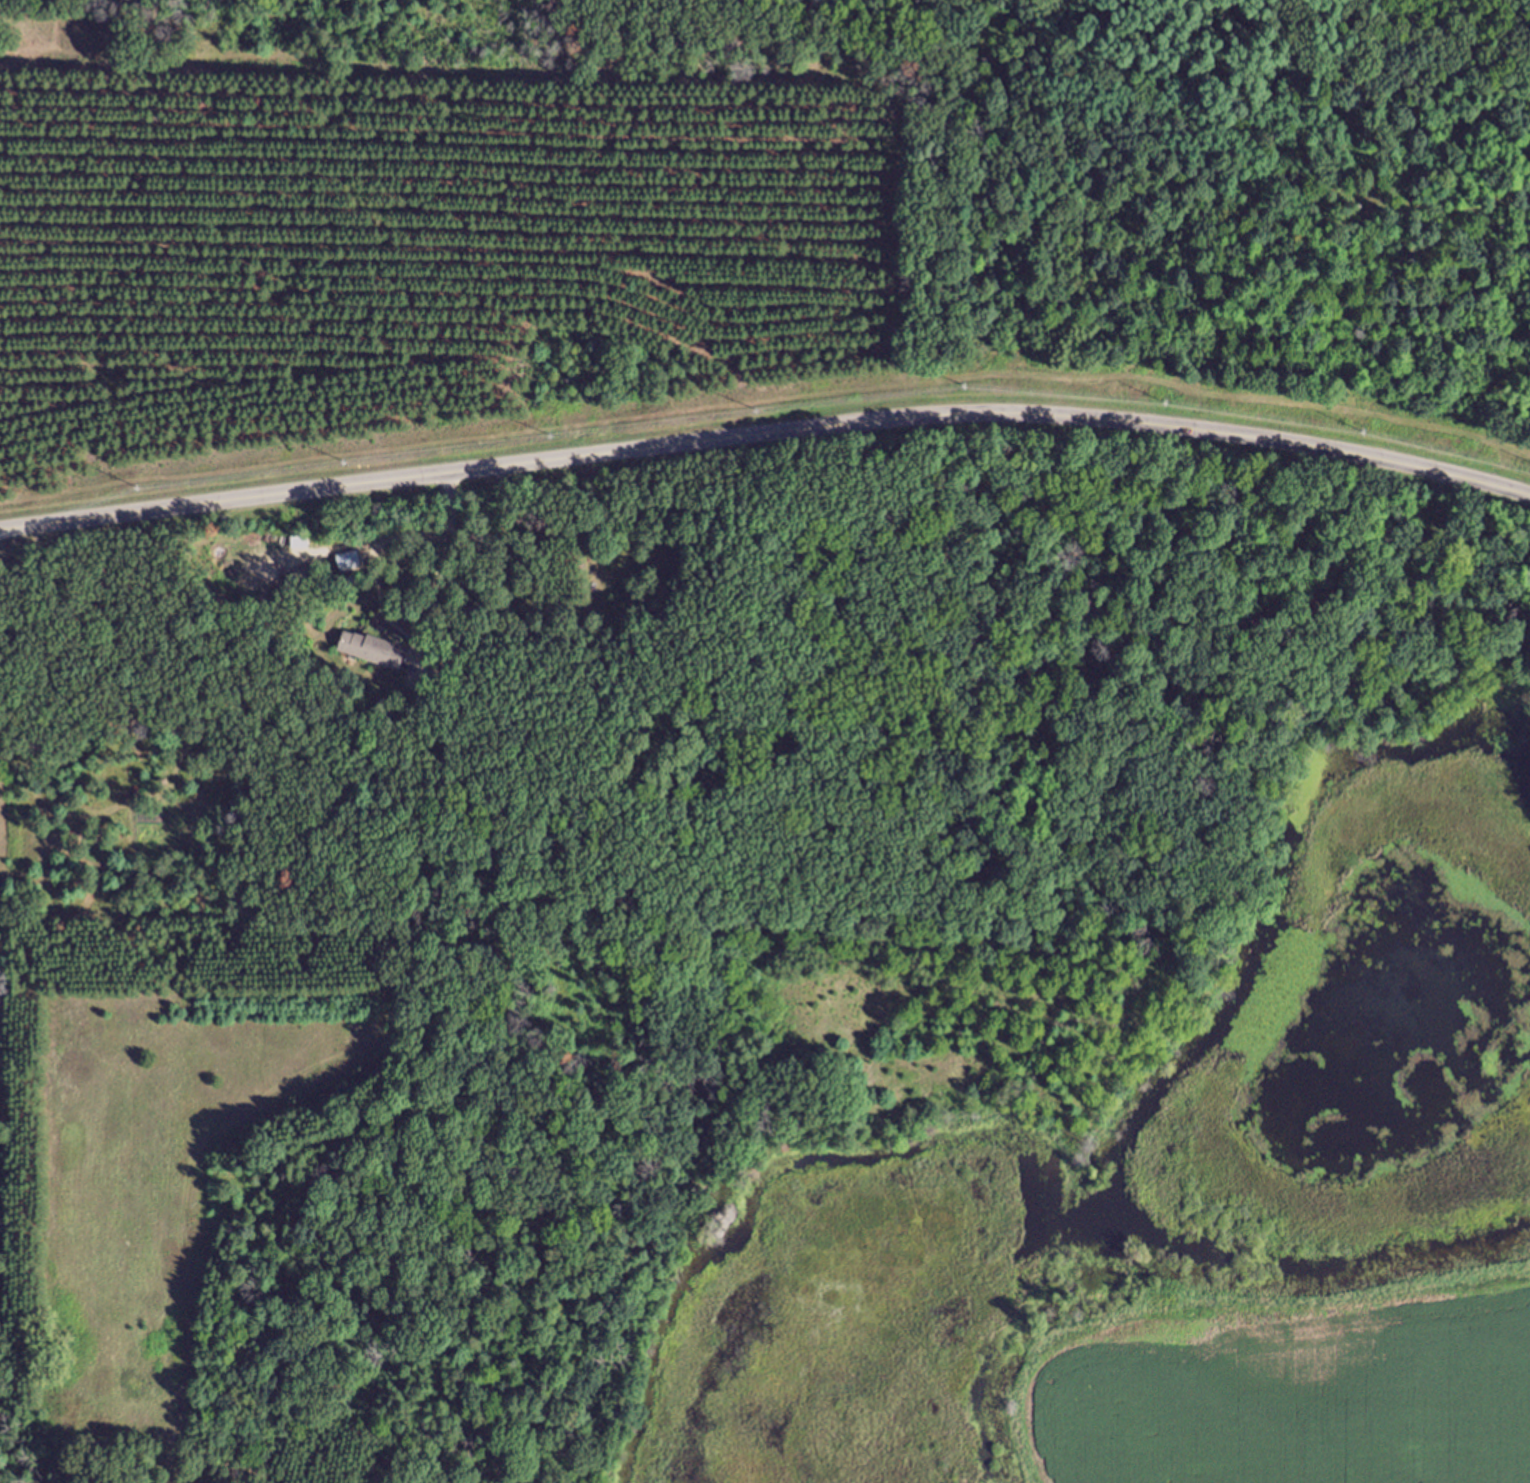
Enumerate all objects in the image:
road: (766, 437)
building: (353, 567)
building: (376, 657)

